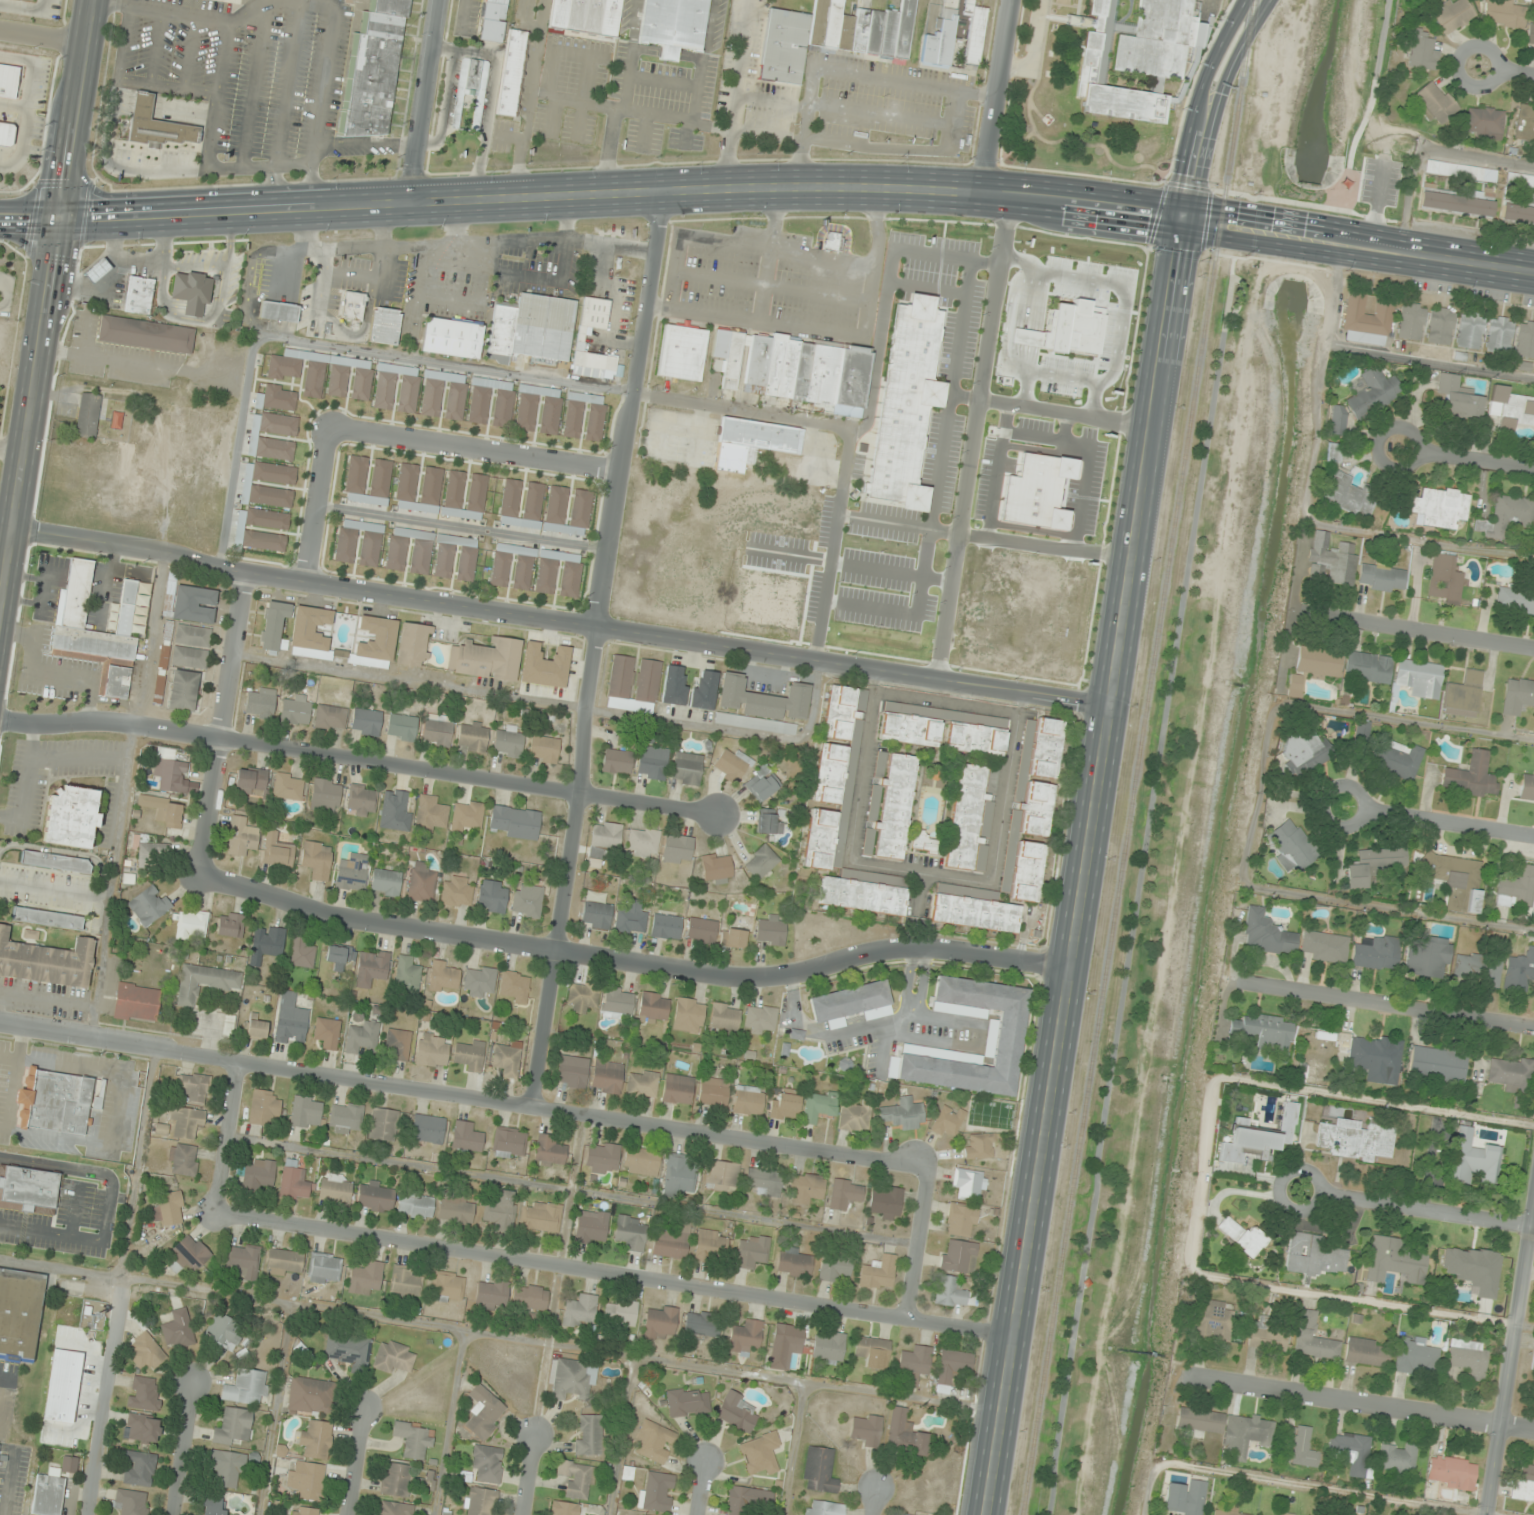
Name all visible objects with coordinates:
road: (25, 7)
building: (1504, 13)
building: (1453, 14)
building: (586, 16)
building: (492, 21)
building: (674, 26)
building: (973, 32)
building: (1530, 34)
road: (44, 35)
building: (940, 40)
road: (1033, 45)
building: (782, 46)
building: (1422, 51)
building: (1134, 55)
building: (373, 70)
road: (1508, 70)
building: (511, 72)
building: (8, 80)
building: (468, 88)
road: (995, 96)
road: (490, 100)
building: (1435, 102)
road: (426, 103)
road: (444, 103)
road: (14, 105)
road: (28, 105)
building: (1484, 121)
building: (1525, 123)
building: (157, 126)
building: (6, 134)
building: (1461, 171)
building: (1520, 182)
road: (624, 196)
building: (1456, 203)
building: (1517, 213)
traffic signals: (62, 217)
traffic signals: (1182, 217)
road: (1293, 233)
road: (522, 241)
building: (831, 241)
road: (349, 248)
road: (284, 256)
road: (1436, 256)
building: (97, 270)
road: (355, 277)
road: (535, 278)
road: (419, 285)
building: (191, 291)
road: (322, 293)
building: (138, 295)
road: (450, 299)
road: (48, 300)
road: (615, 301)
building: (353, 308)
building: (278, 311)
building: (1367, 320)
building: (1412, 321)
building: (1441, 322)
building: (384, 326)
building: (531, 329)
building: (1470, 330)
building: (146, 334)
building: (1499, 334)
building: (452, 338)
building: (1525, 339)
building: (581, 341)
building: (679, 352)
building: (717, 352)
building: (731, 361)
road: (1430, 361)
building: (756, 363)
building: (774, 364)
building: (788, 368)
building: (801, 371)
building: (821, 373)
building: (324, 374)
building: (849, 378)
building: (397, 388)
building: (1371, 393)
road: (246, 396)
building: (432, 397)
building: (277, 398)
building: (1458, 398)
building: (491, 402)
building: (1511, 408)
building: (538, 409)
building: (88, 415)
building: (584, 416)
building: (1338, 420)
building: (273, 436)
road: (399, 440)
building: (752, 442)
road: (12, 449)
building: (1334, 453)
road: (1459, 457)
building: (271, 473)
building: (368, 480)
building: (418, 488)
building: (454, 492)
building: (1347, 495)
building: (522, 503)
building: (1440, 508)
building: (568, 511)
building: (1506, 517)
road: (463, 527)
building: (262, 529)
building: (370, 545)
building: (409, 551)
building: (455, 558)
building: (1331, 560)
building: (512, 567)
building: (558, 574)
building: (1382, 577)
building: (1446, 579)
building: (1515, 600)
building: (194, 604)
road: (561, 620)
building: (275, 625)
building: (128, 628)
road: (1429, 631)
building: (311, 632)
building: (189, 635)
building: (376, 642)
building: (414, 645)
road: (596, 649)
building: (187, 657)
building: (486, 658)
building: (545, 665)
building: (1368, 667)
building: (1313, 668)
building: (1420, 678)
building: (633, 684)
building: (675, 685)
building: (703, 689)
building: (183, 690)
building: (1464, 694)
building: (1517, 695)
building: (861, 700)
building: (261, 703)
building: (765, 704)
building: (296, 709)
building: (330, 717)
road: (222, 722)
building: (366, 722)
building: (401, 727)
building: (976, 730)
building: (1362, 731)
building: (437, 732)
building: (473, 736)
building: (510, 740)
building: (1046, 748)
building: (543, 749)
road: (1105, 751)
building: (1306, 751)
railway: (1137, 757)
road: (360, 758)
building: (1396, 759)
building: (617, 761)
building: (652, 762)
building: (732, 764)
building: (686, 768)
building: (830, 773)
building: (171, 775)
building: (1472, 776)
building: (250, 779)
building: (762, 784)
building: (1527, 785)
building: (288, 786)
building: (325, 795)
building: (362, 800)
building: (890, 810)
building: (165, 811)
building: (394, 811)
building: (430, 813)
building: (970, 814)
building: (71, 817)
building: (467, 817)
road: (1440, 819)
building: (514, 822)
building: (769, 823)
building: (847, 828)
building: (242, 837)
building: (604, 840)
building: (922, 842)
building: (1019, 842)
building: (642, 843)
building: (1291, 845)
building: (677, 849)
building: (277, 850)
building: (150, 851)
building: (981, 858)
building: (316, 859)
building: (55, 861)
building: (761, 862)
building: (1374, 864)
building: (716, 868)
building: (352, 872)
building: (1456, 880)
building: (386, 882)
building: (421, 882)
road: (1139, 884)
building: (1516, 890)
building: (457, 891)
building: (492, 896)
building: (527, 900)
building: (149, 905)
building: (973, 909)
building: (596, 910)
building: (47, 918)
building: (631, 918)
building: (191, 924)
building: (230, 924)
building: (666, 926)
building: (701, 930)
building: (770, 930)
building: (1267, 934)
building: (733, 938)
building: (266, 943)
building: (1326, 946)
building: (302, 952)
building: (1378, 953)
building: (339, 955)
building: (1428, 957)
building: (46, 961)
road: (632, 962)
building: (371, 967)
building: (1477, 970)
building: (1519, 970)
building: (407, 975)
building: (444, 976)
building: (479, 981)
building: (205, 982)
building: (514, 986)
building: (583, 997)
building: (137, 1002)
building: (617, 1003)
building: (851, 1003)
road: (1390, 1006)
building: (653, 1008)
building: (688, 1015)
building: (291, 1019)
building: (724, 1019)
building: (760, 1020)
building: (228, 1024)
building: (255, 1027)
building: (1264, 1031)
building: (328, 1032)
building: (1005, 1032)
building: (363, 1038)
building: (398, 1043)
building: (435, 1049)
building: (470, 1055)
building: (507, 1057)
building: (1378, 1058)
building: (1438, 1064)
building: (572, 1071)
building: (607, 1076)
building: (1513, 1078)
building: (642, 1083)
building: (193, 1088)
building: (678, 1089)
building: (713, 1092)
road: (463, 1095)
building: (748, 1100)
building: (55, 1101)
building: (785, 1103)
building: (819, 1105)
building: (265, 1107)
building: (306, 1112)
building: (902, 1113)
building: (855, 1116)
building: (345, 1118)
building: (947, 1121)
building: (186, 1122)
building: (383, 1124)
building: (427, 1128)
road: (226, 1137)
building: (466, 1138)
building: (1259, 1138)
building: (1356, 1139)
building: (510, 1142)
building: (979, 1145)
building: (549, 1151)
building: (602, 1158)
building: (182, 1159)
building: (1474, 1160)
building: (641, 1161)
road: (136, 1163)
building: (258, 1174)
building: (678, 1175)
building: (721, 1175)
building: (294, 1181)
building: (764, 1181)
building: (968, 1184)
building: (805, 1188)
building: (28, 1189)
building: (335, 1189)
road: (570, 1189)
road: (572, 1189)
building: (845, 1194)
building: (376, 1196)
building: (885, 1202)
road: (110, 1203)
building: (416, 1204)
building: (169, 1208)
building: (500, 1209)
road: (1418, 1209)
road: (75, 1210)
building: (456, 1210)
building: (541, 1218)
building: (961, 1219)
building: (591, 1227)
building: (631, 1232)
building: (1242, 1236)
building: (672, 1239)
road: (917, 1242)
building: (709, 1244)
building: (751, 1251)
building: (188, 1254)
building: (1313, 1255)
building: (958, 1256)
building: (244, 1261)
building: (1394, 1261)
building: (284, 1262)
building: (794, 1262)
building: (324, 1268)
road: (57, 1269)
building: (834, 1269)
road: (558, 1271)
road: (614, 1273)
building: (879, 1273)
building: (366, 1278)
building: (405, 1281)
building: (447, 1286)
building: (950, 1292)
building: (491, 1294)
building: (530, 1297)
building: (580, 1311)
building: (620, 1312)
building: (20, 1313)
road: (374, 1315)
building: (1214, 1320)
building: (660, 1322)
building: (702, 1323)
building: (178, 1329)
building: (223, 1331)
building: (746, 1337)
building: (1267, 1337)
building: (1314, 1338)
building: (785, 1344)
building: (828, 1346)
building: (347, 1349)
building: (873, 1351)
building: (145, 1352)
building: (1368, 1352)
building: (1419, 1354)
road: (545, 1355)
building: (394, 1356)
building: (1468, 1358)
building: (914, 1364)
building: (953, 1366)
road: (1511, 1374)
building: (571, 1376)
road: (817, 1382)
building: (246, 1386)
building: (144, 1393)
road: (104, 1396)
building: (311, 1396)
building: (687, 1402)
road: (1360, 1404)
road: (275, 1409)
building: (484, 1412)
building: (736, 1412)
road: (448, 1422)
building: (234, 1426)
building: (142, 1428)
building: (865, 1429)
building: (1226, 1429)
building: (904, 1433)
building: (590, 1434)
road: (620, 1435)
building: (317, 1439)
building: (413, 1439)
building: (653, 1441)
building: (1297, 1446)
building: (1349, 1447)
road: (794, 1448)
road: (181, 1449)
building: (760, 1454)
building: (1397, 1458)
road: (356, 1462)
building: (488, 1463)
building: (139, 1467)
building: (226, 1467)
building: (819, 1470)
building: (1452, 1472)
road: (526, 1474)
building: (395, 1478)
building: (577, 1479)
building: (307, 1480)
building: (1524, 1485)
road: (700, 1488)
building: (657, 1491)
building: (48, 1493)
building: (1185, 1498)
building: (748, 1500)
building: (480, 1501)
building: (131, 1502)
road: (874, 1502)
building: (213, 1505)
building: (394, 1508)
building: (564, 1508)
building: (824, 1508)
building: (1229, 1510)
building: (307, 1511)
building: (289, 1514)
building: (903, 1514)
building: (1287, 1514)

